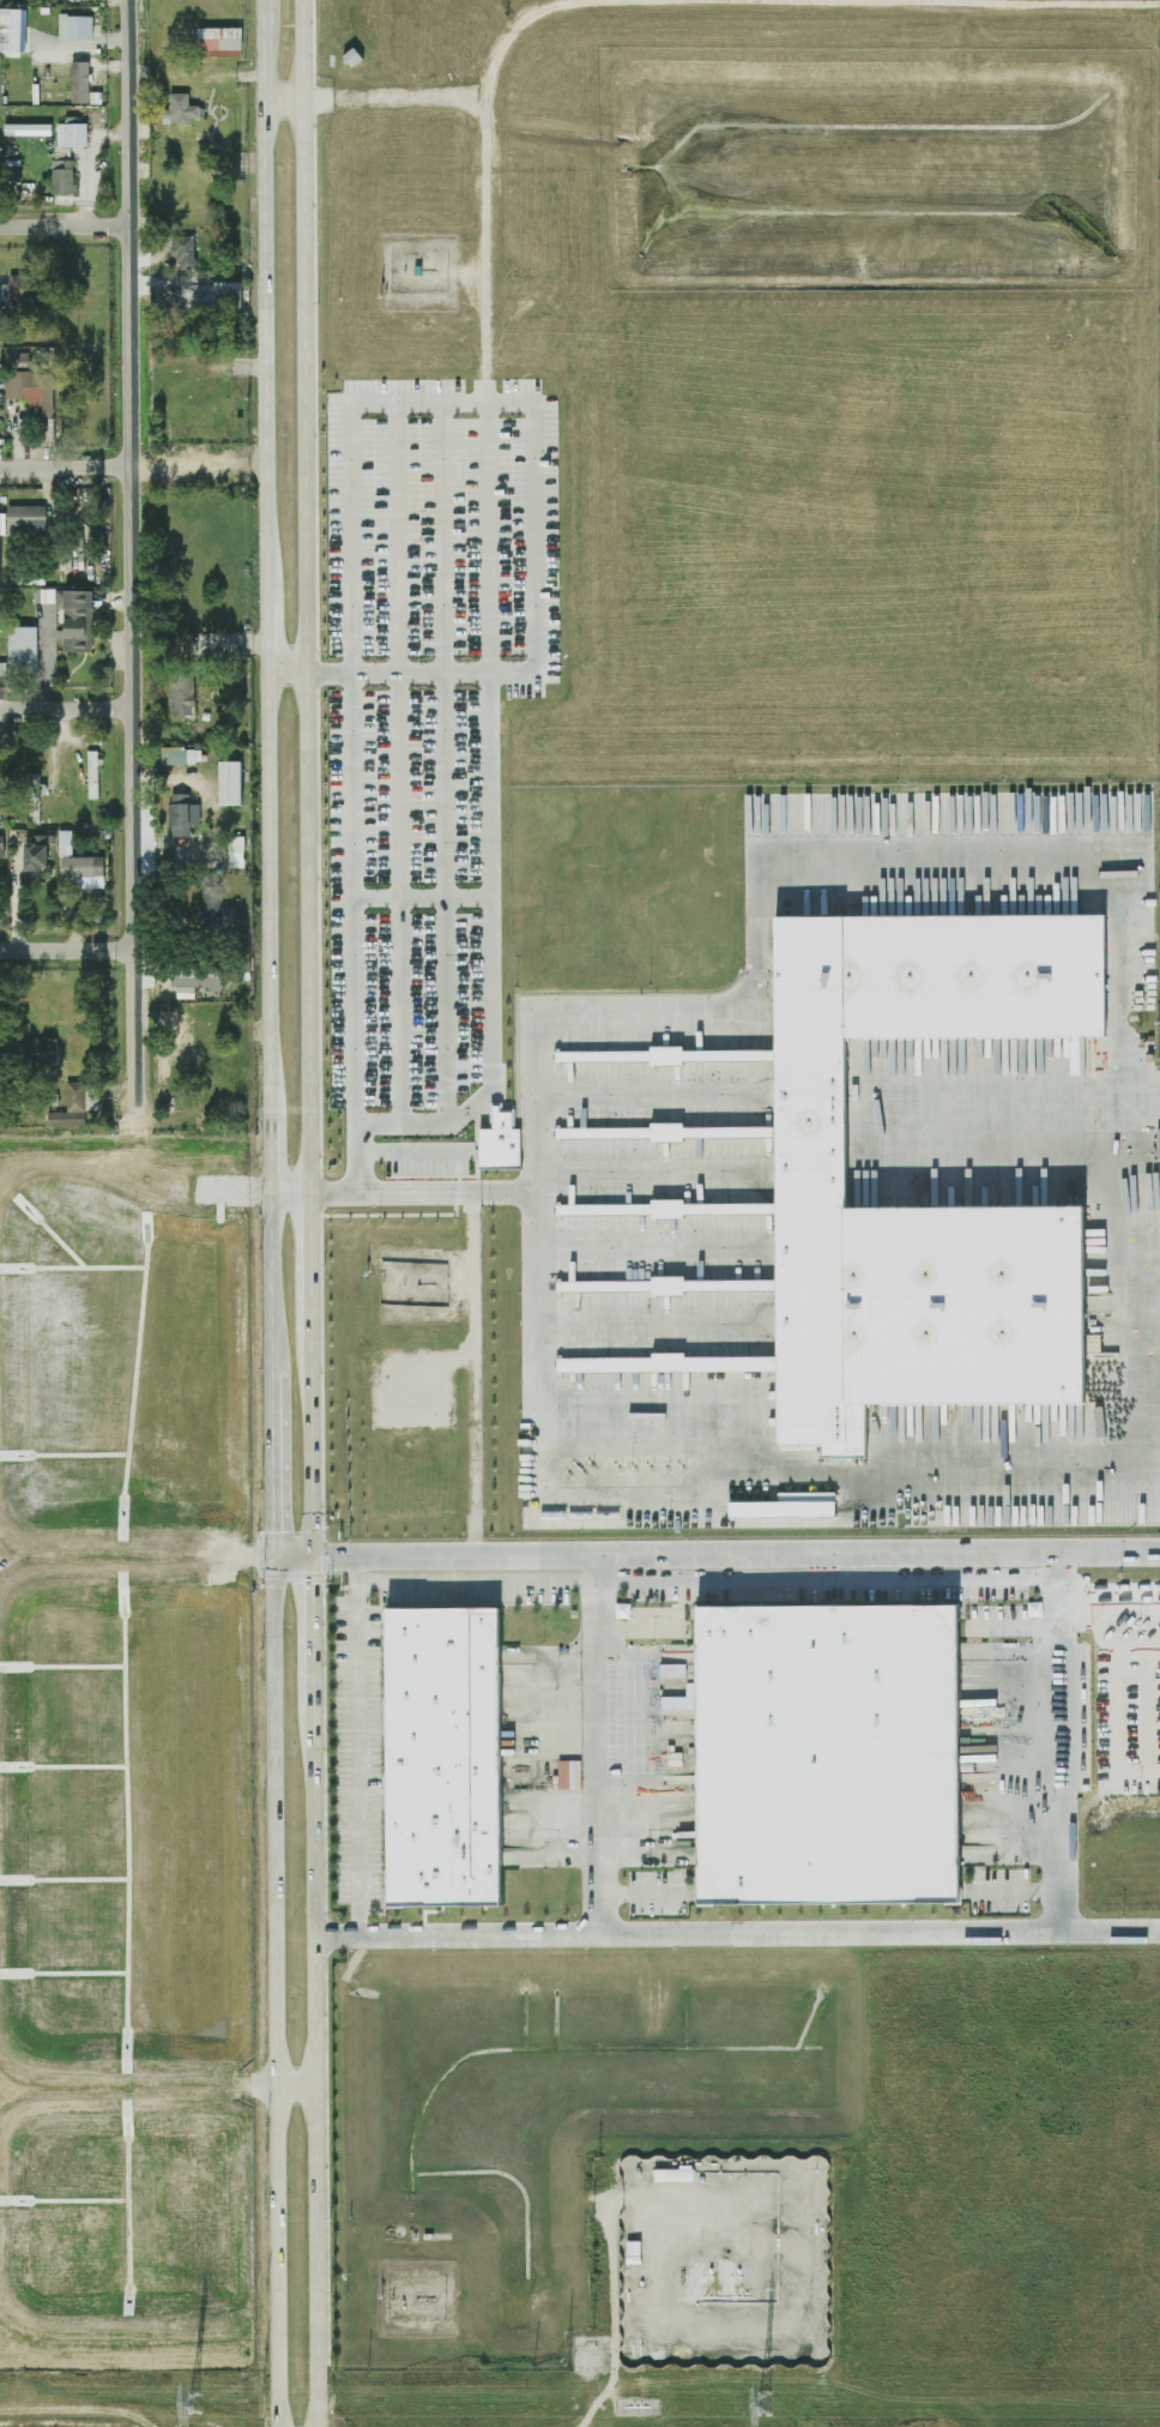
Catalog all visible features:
building: (73, 28)
building: (217, 43)
building: (78, 83)
road: (285, 102)
road: (395, 106)
building: (180, 109)
building: (26, 130)
building: (71, 134)
building: (61, 177)
road: (65, 225)
building: (183, 253)
building: (17, 287)
building: (224, 295)
building: (17, 360)
building: (216, 390)
building: (31, 391)
road: (463, 403)
road: (66, 466)
building: (25, 519)
road: (132, 552)
road: (267, 559)
road: (308, 559)
building: (72, 618)
road: (491, 638)
road: (230, 640)
building: (22, 648)
road: (289, 677)
road: (400, 680)
building: (180, 698)
road: (66, 709)
building: (177, 755)
building: (91, 764)
road: (397, 765)
road: (449, 766)
building: (228, 784)
building: (181, 815)
building: (64, 843)
building: (1, 847)
building: (36, 853)
road: (874, 862)
building: (81, 867)
road: (428, 896)
road: (362, 904)
building: (211, 908)
road: (67, 948)
building: (194, 978)
building: (47, 1050)
building: (74, 1106)
road: (289, 1119)
building: (749, 1133)
building: (500, 1143)
road: (417, 1151)
road: (134, 1174)
road: (289, 1202)
building: (667, 1285)
road: (531, 1325)
building: (682, 1363)
building: (570, 1365)
road: (473, 1375)
road: (822, 1480)
building: (784, 1506)
traffic signals: (273, 1532)
road: (755, 1553)
traffic signals: (328, 1555)
road: (332, 1555)
road: (292, 1556)
road: (137, 1558)
road: (827, 1580)
traffic signals: (314, 1585)
road: (1108, 1614)
road: (1014, 1622)
road: (638, 1626)
building: (663, 1670)
road: (633, 1698)
building: (673, 1700)
road: (1058, 1741)
road: (600, 1742)
road: (355, 1744)
road: (654, 1745)
building: (823, 1755)
building: (442, 1757)
road: (274, 1772)
road: (314, 1772)
building: (567, 1775)
road: (1020, 1892)
road: (640, 1895)
road: (759, 1932)
road: (337, 1933)
road: (296, 2084)
road: (138, 2090)
road: (615, 2312)
road: (139, 2344)
power tower: (193, 2403)
power tower: (763, 2404)

